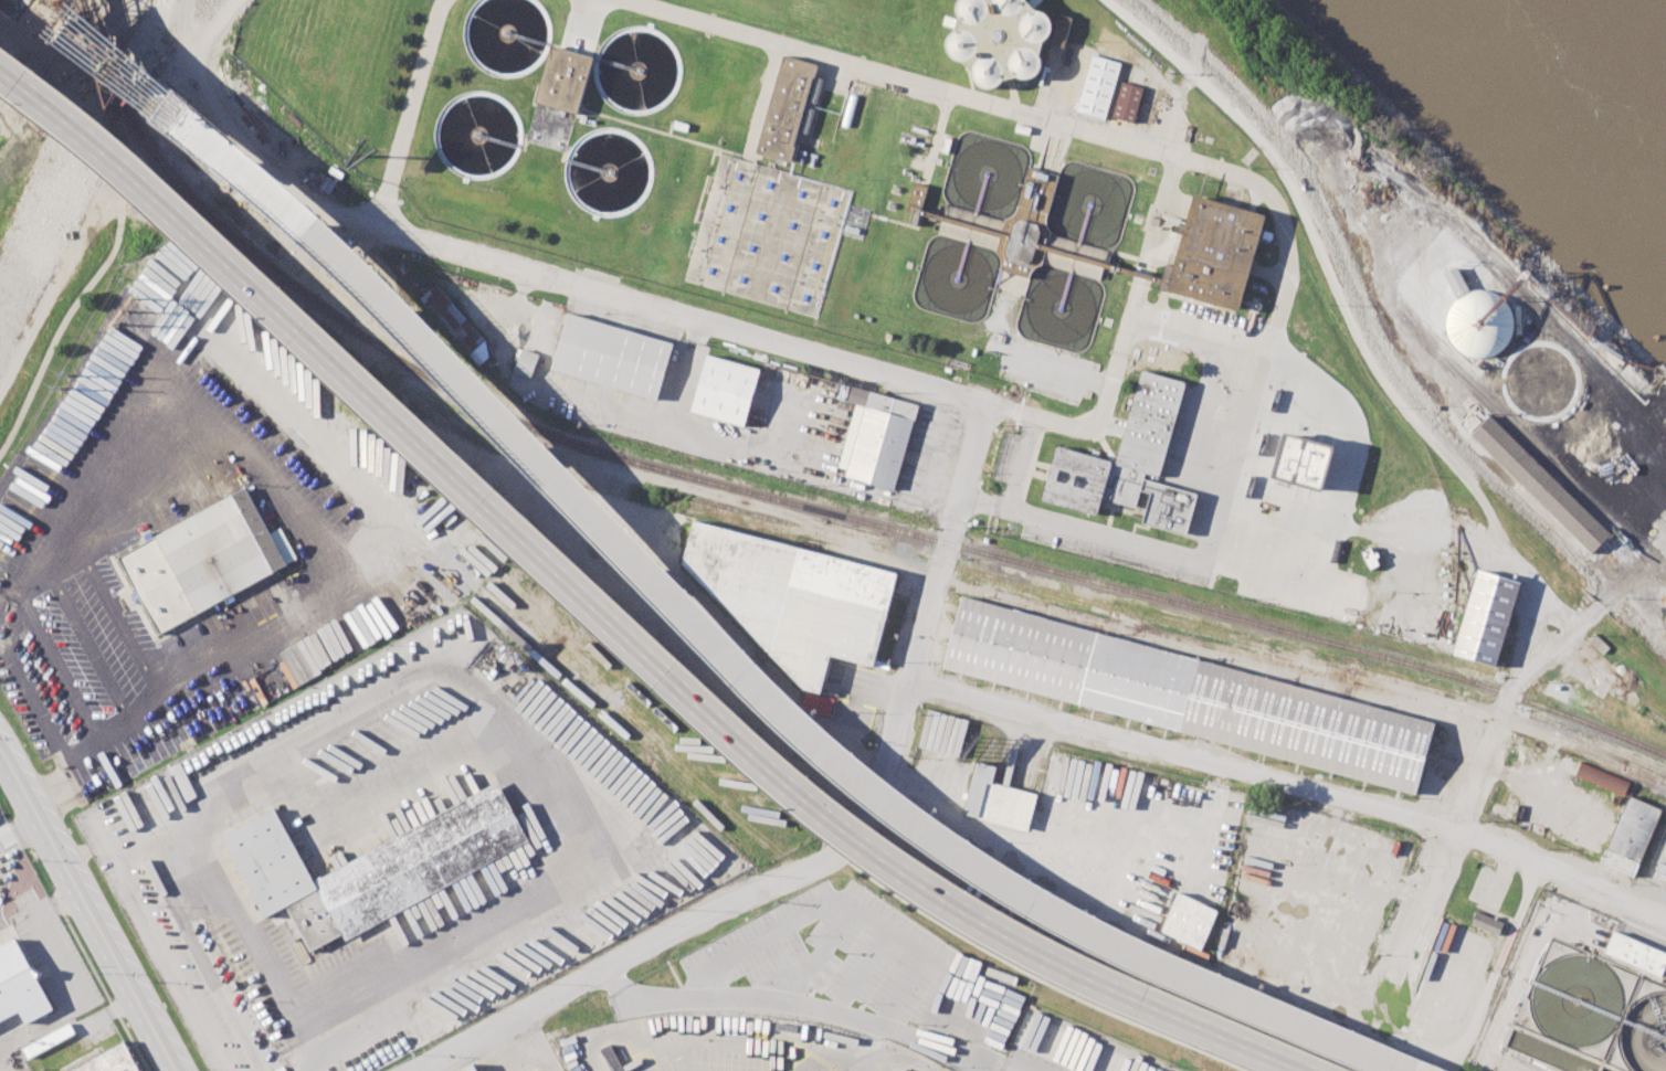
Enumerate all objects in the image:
building: (1061, 31)
railway: (107, 55)
building: (562, 78)
building: (1098, 87)
building: (1127, 102)
building: (783, 108)
road: (408, 110)
road: (61, 135)
road: (1264, 188)
building: (916, 201)
building: (1024, 235)
building: (1213, 253)
wastewater plant: (879, 268)
road: (1141, 286)
road: (660, 307)
road: (619, 310)
road: (66, 318)
building: (1475, 319)
silo: (1475, 319)
building: (457, 321)
road: (1202, 330)
building: (612, 356)
building: (527, 362)
building: (727, 390)
building: (877, 437)
building: (1128, 460)
building: (1303, 460)
building: (1539, 484)
road: (356, 494)
road: (1338, 496)
railway: (848, 518)
railway: (803, 527)
road: (949, 539)
building: (379, 556)
parking lot: (164, 558)
building: (202, 560)
road: (673, 598)
building: (794, 598)
road: (108, 600)
building: (1486, 617)
building: (1663, 622)
road: (618, 623)
road: (82, 630)
railway: (1317, 660)
railway: (1299, 667)
road: (1529, 668)
road: (428, 670)
road: (651, 679)
building: (1188, 693)
road: (1183, 752)
road: (67, 771)
building: (1602, 777)
building: (998, 799)
road: (1215, 805)
road: (20, 825)
building: (1631, 835)
road: (119, 837)
parking lot: (7, 853)
parking lot: (391, 856)
building: (378, 866)
road: (1562, 866)
road: (94, 906)
road: (709, 912)
building: (1189, 922)
building: (1486, 923)
parking lot: (3, 931)
building: (1635, 953)
road: (1052, 972)
road: (61, 973)
parking lot: (45, 976)
road: (926, 978)
building: (19, 985)
parking lot: (968, 988)
wastewater plant: (1575, 996)
building: (52, 1039)
road: (536, 1043)
building: (110, 1061)
road: (875, 1061)
parking lot: (929, 1065)
road: (317, 1068)
building: (472, 1068)
building: (538, 1069)
building: (907, 1070)

